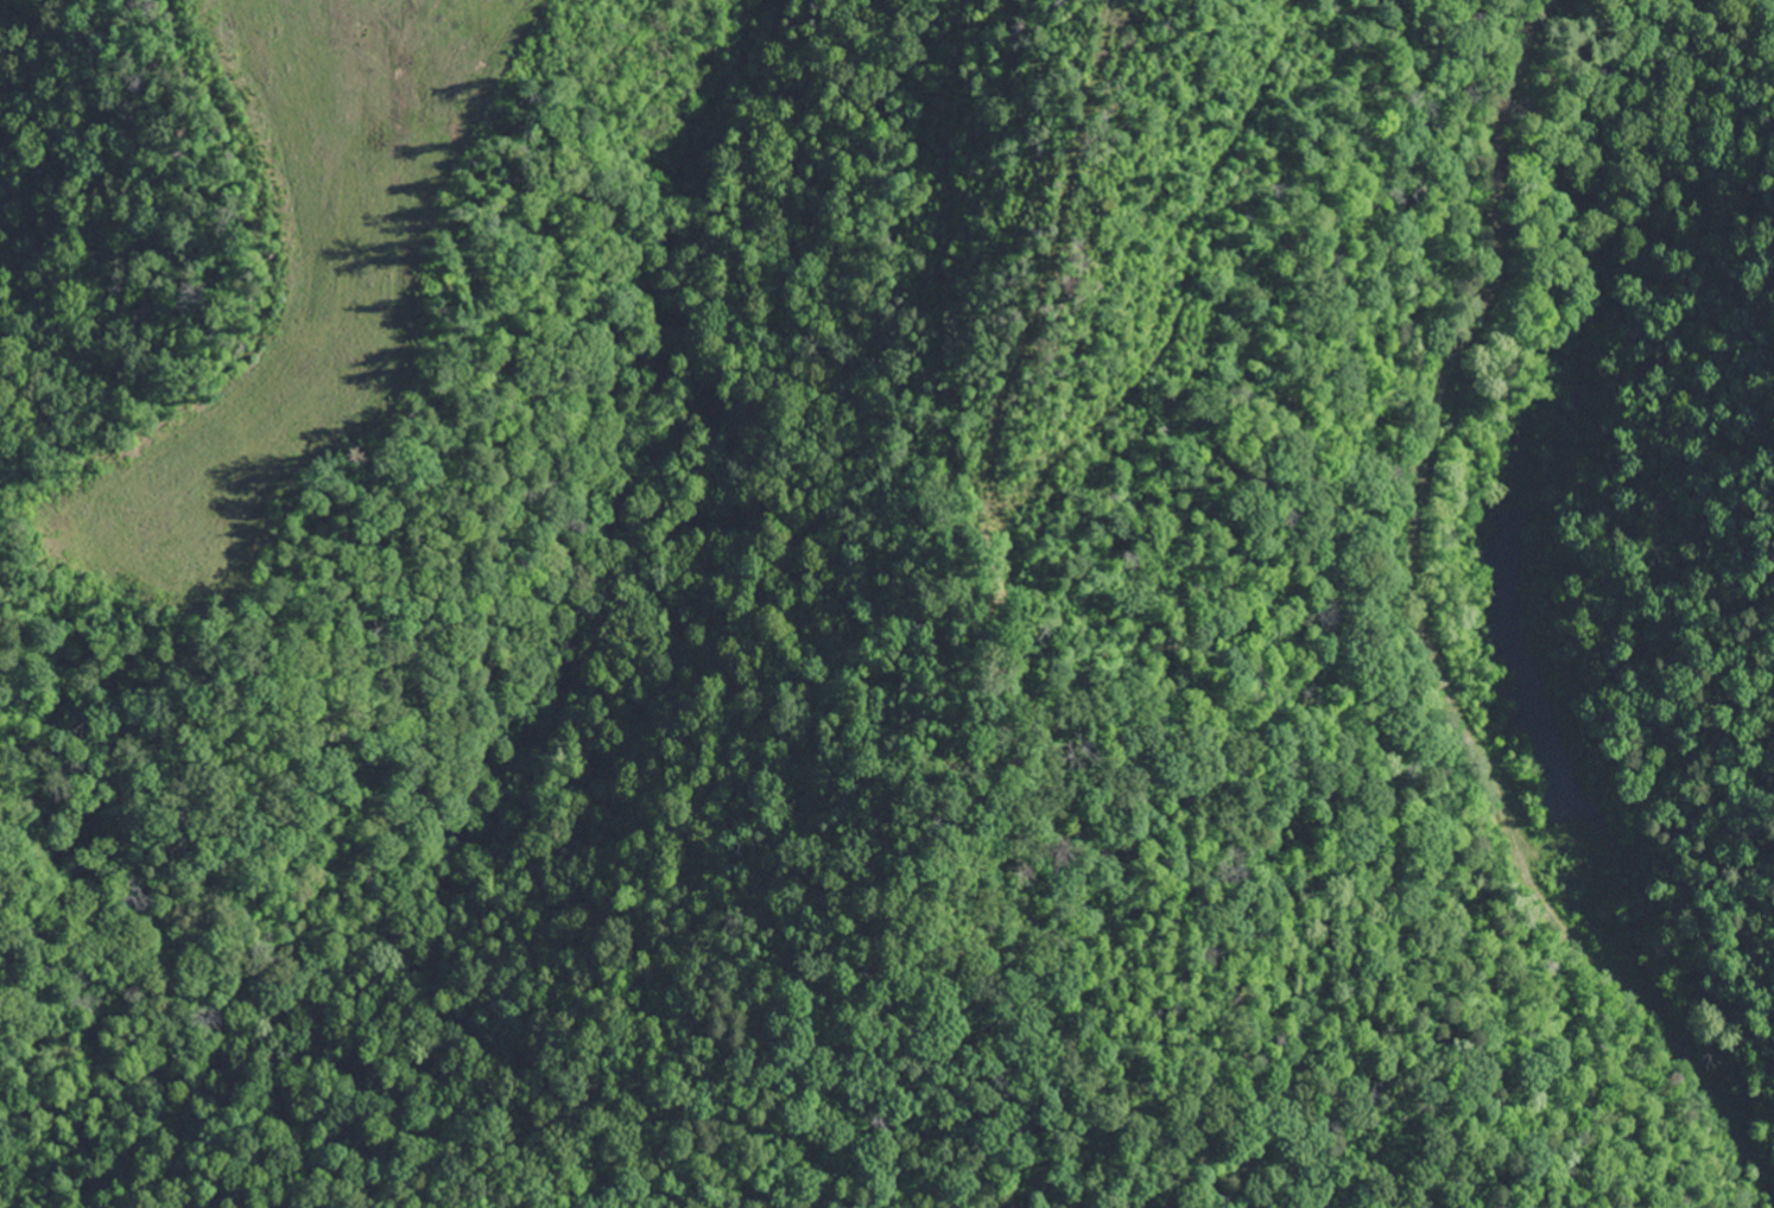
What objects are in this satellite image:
road: (1388, 635)

